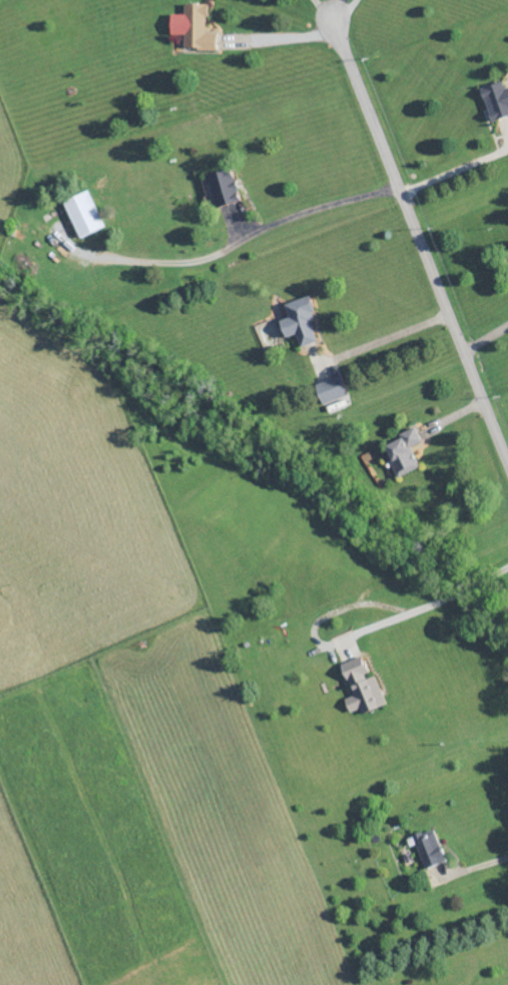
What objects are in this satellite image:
road: (325, 12)
road: (348, 12)
building: (196, 26)
road: (282, 37)
building: (497, 99)
road: (457, 174)
building: (225, 186)
building: (85, 213)
road: (422, 239)
road: (229, 246)
building: (302, 321)
road: (393, 340)
road: (488, 342)
building: (333, 388)
building: (407, 451)
road: (458, 594)
road: (316, 635)
building: (363, 686)
building: (432, 848)
road: (475, 871)

